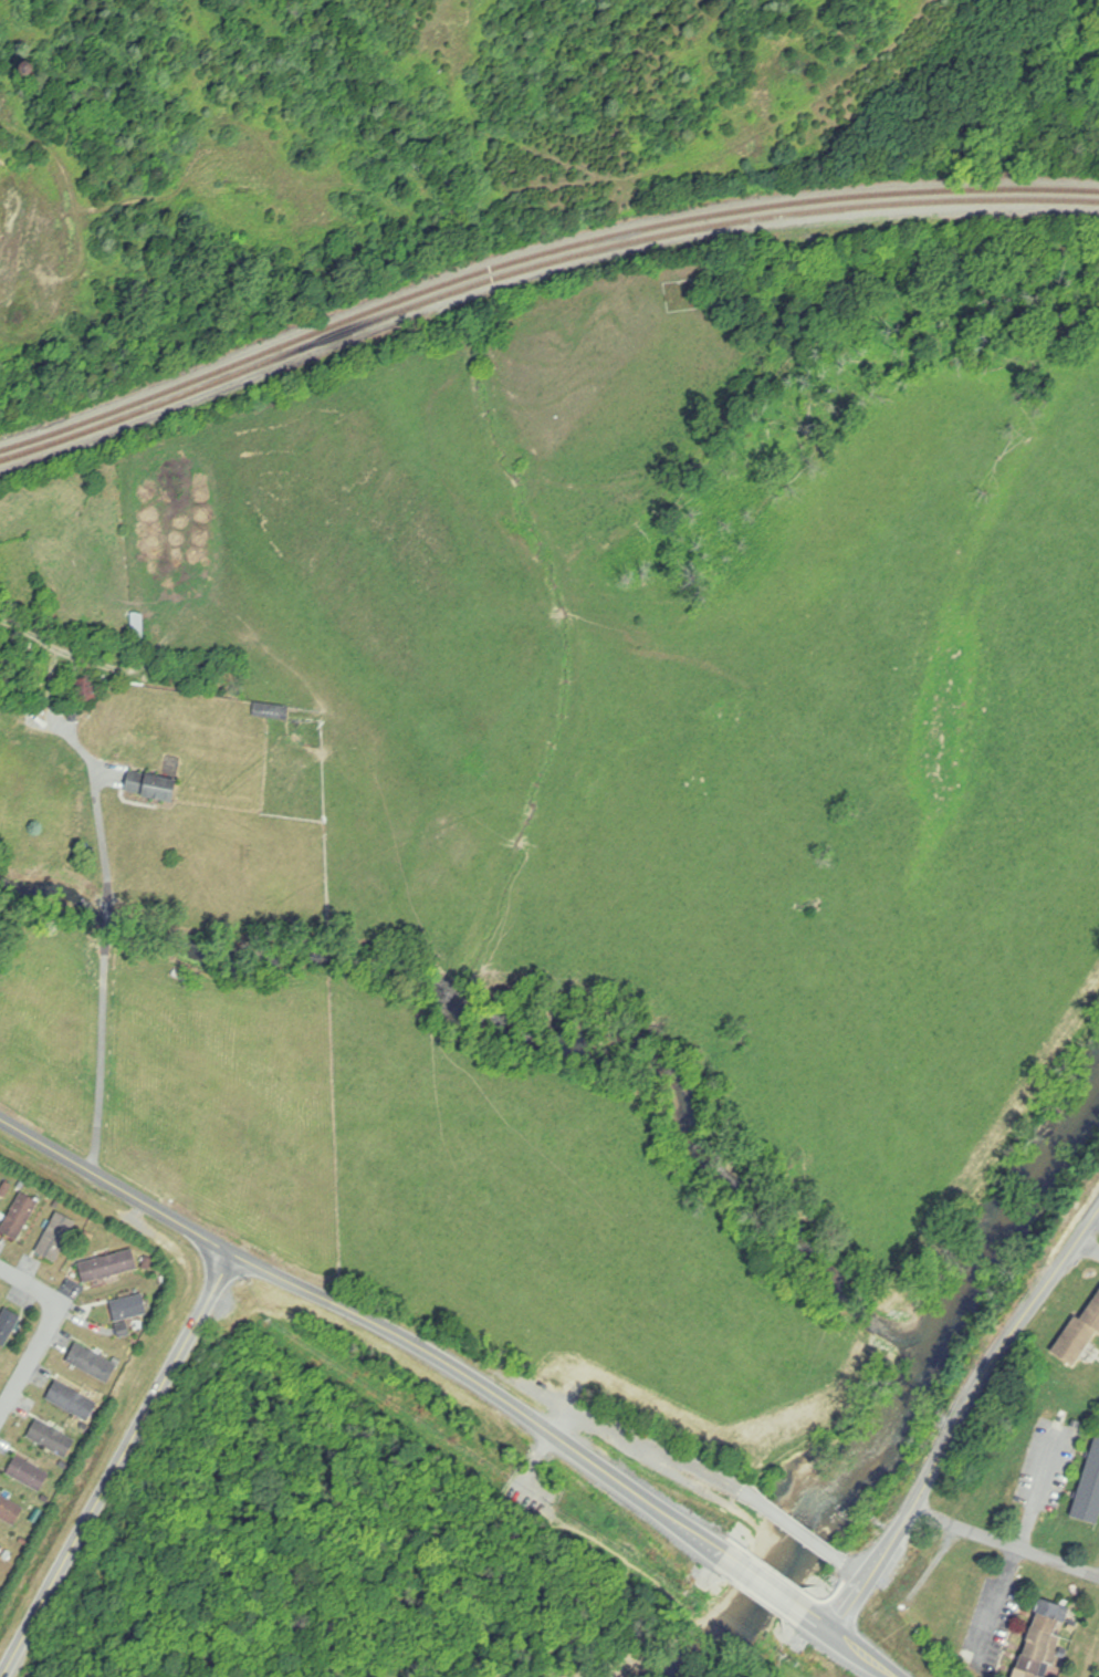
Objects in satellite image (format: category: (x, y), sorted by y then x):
railway: (535, 256)
railway: (535, 267)
road: (53, 628)
building: (272, 711)
building: (151, 787)
road: (102, 977)
building: (0, 1187)
road: (1098, 1215)
building: (20, 1217)
building: (56, 1238)
road: (1088, 1248)
building: (108, 1267)
building: (114, 1306)
road: (375, 1319)
building: (8, 1326)
road: (48, 1332)
building: (1079, 1335)
building: (93, 1363)
building: (72, 1400)
river: (898, 1403)
road: (961, 1419)
building: (51, 1438)
road: (118, 1466)
building: (29, 1473)
building: (1090, 1489)
building: (10, 1510)
road: (1006, 1543)
building: (1, 1548)
road: (1017, 1550)
road: (765, 1585)
building: (1044, 1639)
road: (852, 1644)

